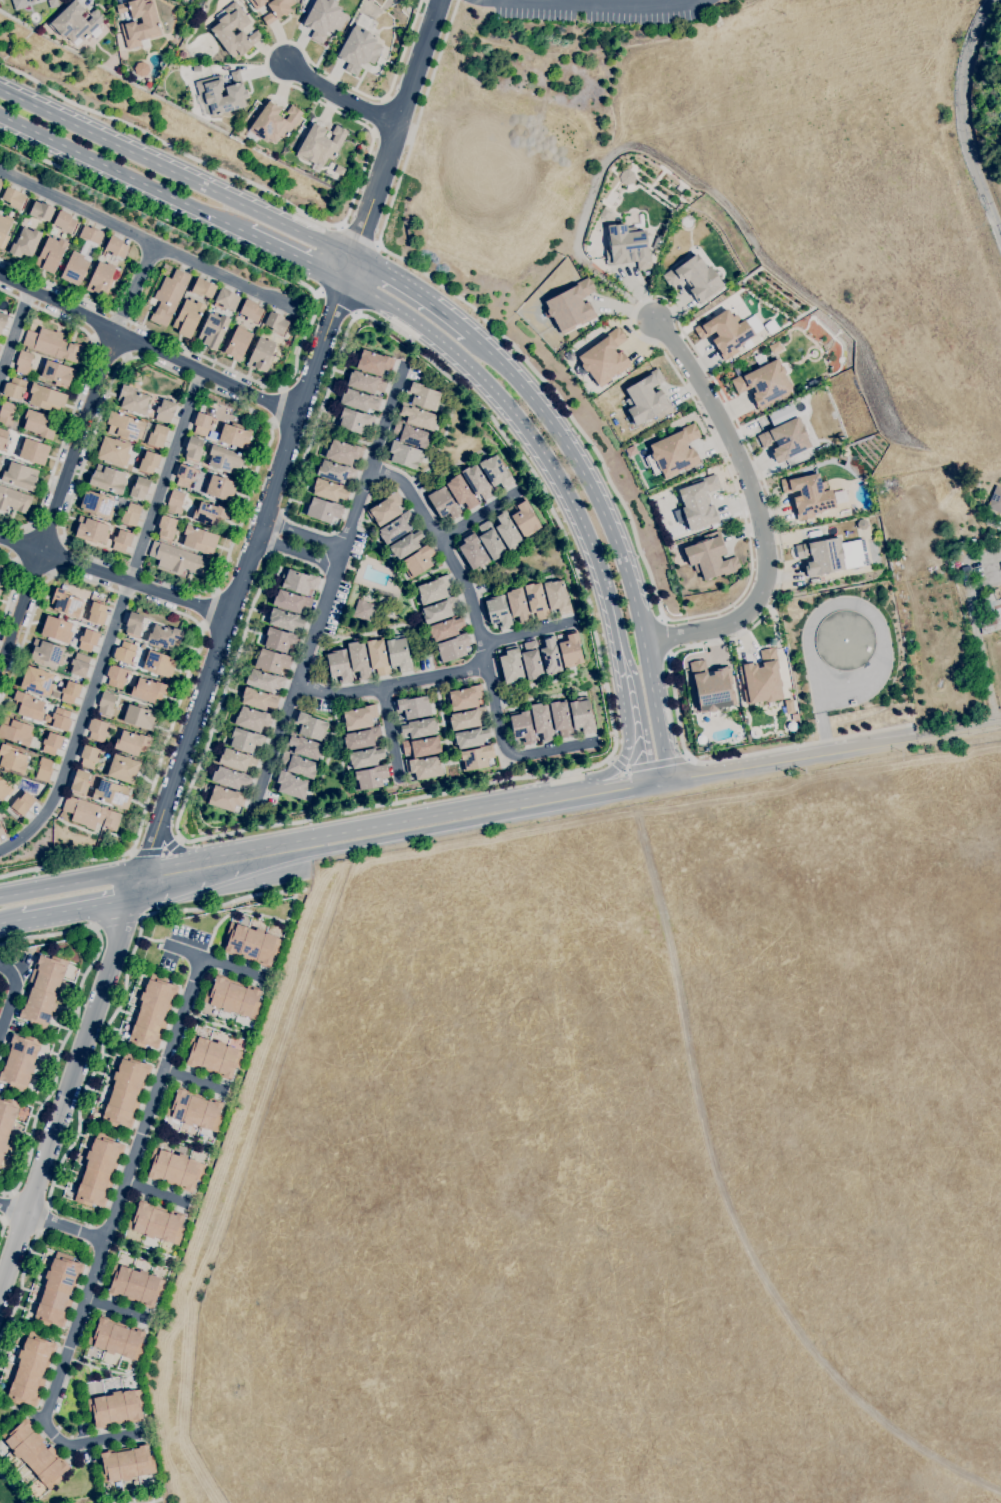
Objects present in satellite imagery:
building: (34, 1)
road: (994, 2)
building: (258, 3)
road: (597, 3)
building: (19, 4)
building: (278, 10)
parking lot: (600, 10)
building: (324, 19)
building: (75, 23)
building: (140, 26)
building: (221, 29)
building: (358, 50)
building: (182, 54)
building: (140, 69)
building: (148, 83)
building: (209, 93)
road: (339, 99)
road: (962, 120)
building: (273, 123)
road: (393, 127)
building: (320, 146)
road: (175, 173)
road: (124, 174)
road: (359, 175)
building: (0, 184)
building: (13, 198)
building: (41, 211)
building: (65, 222)
building: (4, 230)
road: (144, 233)
road: (358, 236)
building: (25, 244)
building: (116, 247)
building: (627, 247)
building: (51, 255)
building: (81, 256)
road: (296, 256)
road: (280, 274)
building: (695, 278)
building: (101, 279)
road: (135, 286)
building: (203, 288)
road: (64, 291)
road: (411, 291)
road: (8, 294)
building: (169, 297)
building: (227, 299)
road: (335, 305)
building: (571, 307)
building: (251, 310)
road: (55, 317)
building: (188, 318)
building: (2, 321)
building: (276, 323)
building: (213, 330)
building: (725, 333)
road: (18, 344)
building: (237, 344)
building: (52, 345)
building: (0, 347)
road: (148, 348)
road: (109, 350)
building: (262, 355)
building: (605, 358)
building: (23, 363)
building: (373, 363)
building: (57, 374)
building: (366, 383)
building: (764, 384)
building: (14, 388)
building: (423, 396)
building: (46, 399)
building: (647, 399)
building: (133, 401)
building: (360, 401)
road: (279, 407)
road: (510, 410)
building: (165, 411)
road: (320, 412)
building: (7, 414)
building: (417, 417)
building: (355, 421)
building: (202, 424)
road: (381, 424)
building: (39, 425)
building: (125, 426)
building: (212, 435)
building: (411, 435)
building: (157, 436)
building: (235, 436)
building: (3, 438)
building: (785, 440)
road: (78, 443)
road: (716, 444)
road: (60, 448)
building: (194, 449)
building: (33, 452)
building: (113, 452)
building: (675, 452)
building: (344, 453)
building: (404, 454)
road: (86, 455)
building: (0, 459)
building: (224, 460)
building: (149, 462)
building: (0, 467)
building: (335, 472)
building: (496, 472)
road: (165, 476)
building: (185, 476)
building: (20, 477)
building: (108, 480)
building: (477, 482)
building: (140, 488)
building: (218, 488)
building: (330, 490)
road: (411, 493)
building: (461, 493)
building: (808, 496)
road: (246, 499)
building: (14, 500)
building: (995, 500)
building: (175, 503)
building: (699, 503)
building: (444, 504)
building: (97, 505)
building: (323, 510)
building: (386, 510)
road: (757, 510)
road: (283, 513)
building: (131, 515)
building: (210, 515)
road: (478, 516)
building: (524, 519)
building: (167, 527)
building: (396, 528)
building: (91, 531)
building: (507, 531)
road: (46, 532)
road: (273, 534)
road: (613, 536)
building: (199, 540)
building: (122, 541)
building: (491, 541)
road: (301, 543)
road: (21, 544)
building: (406, 544)
building: (961, 546)
building: (473, 551)
building: (952, 553)
road: (55, 556)
road: (267, 557)
building: (710, 557)
building: (821, 557)
building: (177, 559)
building: (418, 561)
building: (1000, 563)
road: (32, 570)
building: (2, 574)
road: (336, 575)
road: (114, 577)
road: (431, 578)
building: (299, 582)
road: (13, 585)
road: (473, 587)
building: (434, 590)
building: (0, 591)
road: (409, 593)
building: (557, 597)
building: (536, 601)
building: (291, 602)
road: (20, 603)
building: (66, 603)
road: (35, 604)
building: (518, 607)
road: (611, 608)
road: (210, 610)
building: (439, 610)
building: (363, 611)
building: (498, 612)
building: (989, 613)
building: (97, 614)
building: (286, 620)
building: (134, 625)
building: (446, 628)
building: (57, 630)
road: (368, 634)
road: (527, 634)
road: (976, 635)
building: (164, 637)
building: (88, 640)
building: (279, 640)
building: (845, 640)
building: (453, 648)
building: (570, 650)
building: (47, 653)
building: (125, 653)
building: (398, 654)
road: (483, 656)
building: (550, 656)
building: (378, 657)
building: (359, 660)
building: (272, 661)
building: (531, 661)
building: (158, 664)
building: (79, 665)
building: (511, 665)
building: (339, 666)
building: (116, 677)
building: (761, 679)
building: (37, 681)
building: (264, 681)
road: (433, 682)
building: (712, 687)
building: (148, 690)
building: (70, 692)
road: (339, 695)
building: (464, 698)
building: (259, 700)
road: (639, 701)
building: (852, 703)
building: (106, 704)
building: (29, 706)
building: (413, 707)
road: (624, 714)
building: (582, 716)
building: (139, 717)
building: (359, 718)
building: (468, 719)
building: (561, 719)
building: (61, 720)
building: (252, 720)
building: (542, 722)
road: (78, 726)
building: (310, 726)
building: (417, 728)
building: (522, 728)
building: (97, 731)
building: (16, 732)
road: (957, 733)
road: (389, 734)
building: (471, 738)
building: (362, 739)
building: (246, 741)
building: (51, 743)
building: (132, 744)
road: (275, 746)
building: (304, 747)
building: (421, 747)
road: (508, 752)
building: (89, 757)
building: (366, 757)
road: (160, 758)
building: (476, 758)
building: (12, 759)
building: (237, 760)
road: (791, 761)
building: (298, 765)
building: (424, 768)
building: (122, 769)
building: (44, 770)
building: (0, 775)
road: (175, 775)
building: (371, 778)
building: (231, 779)
road: (515, 779)
building: (80, 782)
road: (661, 783)
building: (290, 785)
road: (619, 786)
building: (4, 790)
building: (111, 794)
building: (225, 798)
building: (23, 804)
building: (90, 814)
road: (455, 826)
building: (1, 831)
road: (292, 842)
road: (172, 845)
road: (197, 881)
road: (80, 908)
road: (11, 921)
road: (117, 924)
building: (252, 945)
road: (214, 962)
building: (42, 992)
road: (11, 996)
building: (233, 997)
road: (118, 1008)
building: (153, 1012)
road: (74, 1022)
building: (213, 1057)
building: (19, 1062)
road: (195, 1080)
building: (126, 1092)
building: (195, 1110)
building: (6, 1122)
building: (175, 1170)
building: (99, 1171)
road: (157, 1193)
road: (120, 1198)
road: (727, 1204)
road: (1, 1219)
building: (156, 1223)
road: (52, 1224)
road: (1, 1225)
road: (27, 1262)
building: (135, 1286)
building: (58, 1291)
road: (118, 1308)
building: (117, 1339)
building: (31, 1370)
building: (116, 1409)
road: (99, 1441)
building: (35, 1453)
building: (126, 1464)
park: (16, 1484)
road: (145, 1502)

